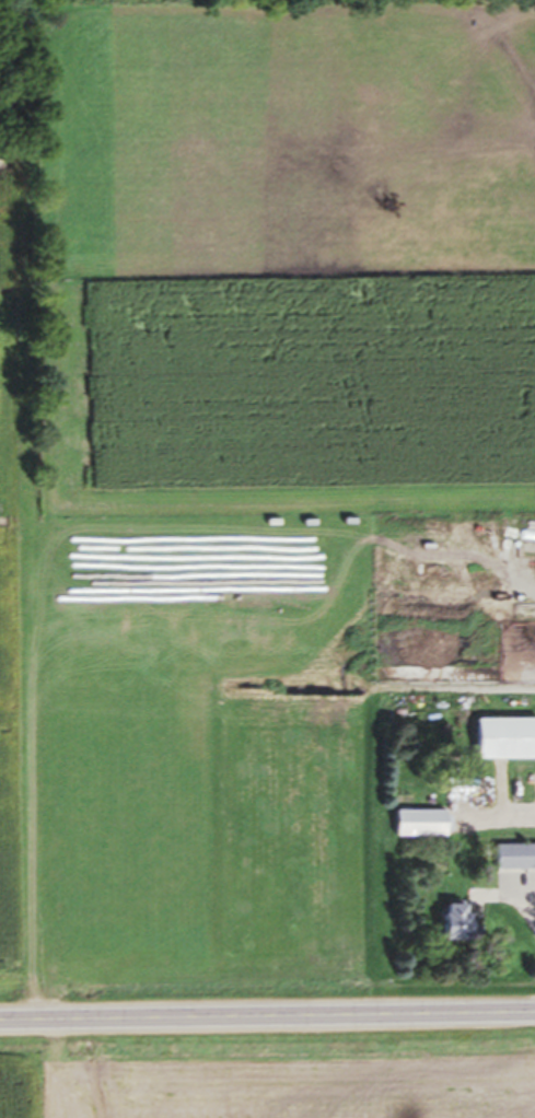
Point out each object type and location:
building: (504, 744)
building: (418, 829)
building: (513, 862)
building: (454, 928)
road: (267, 1016)

